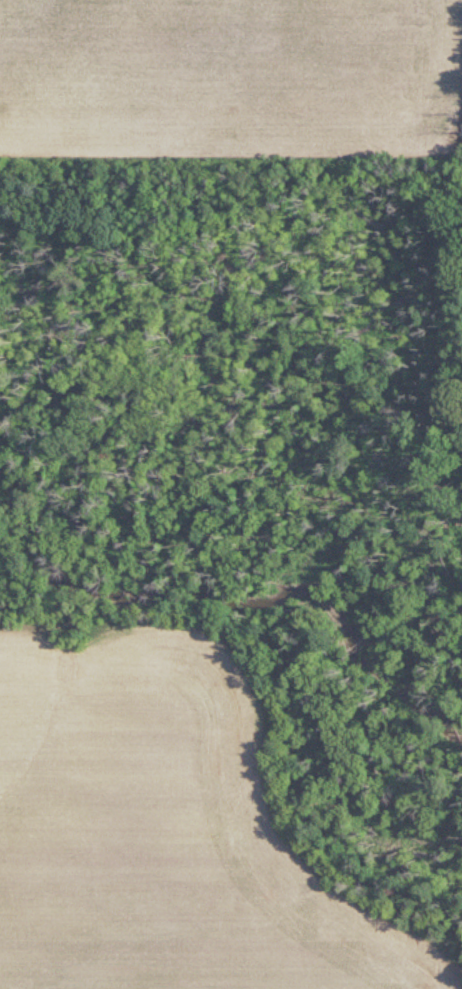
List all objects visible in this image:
river: (233, 598)

